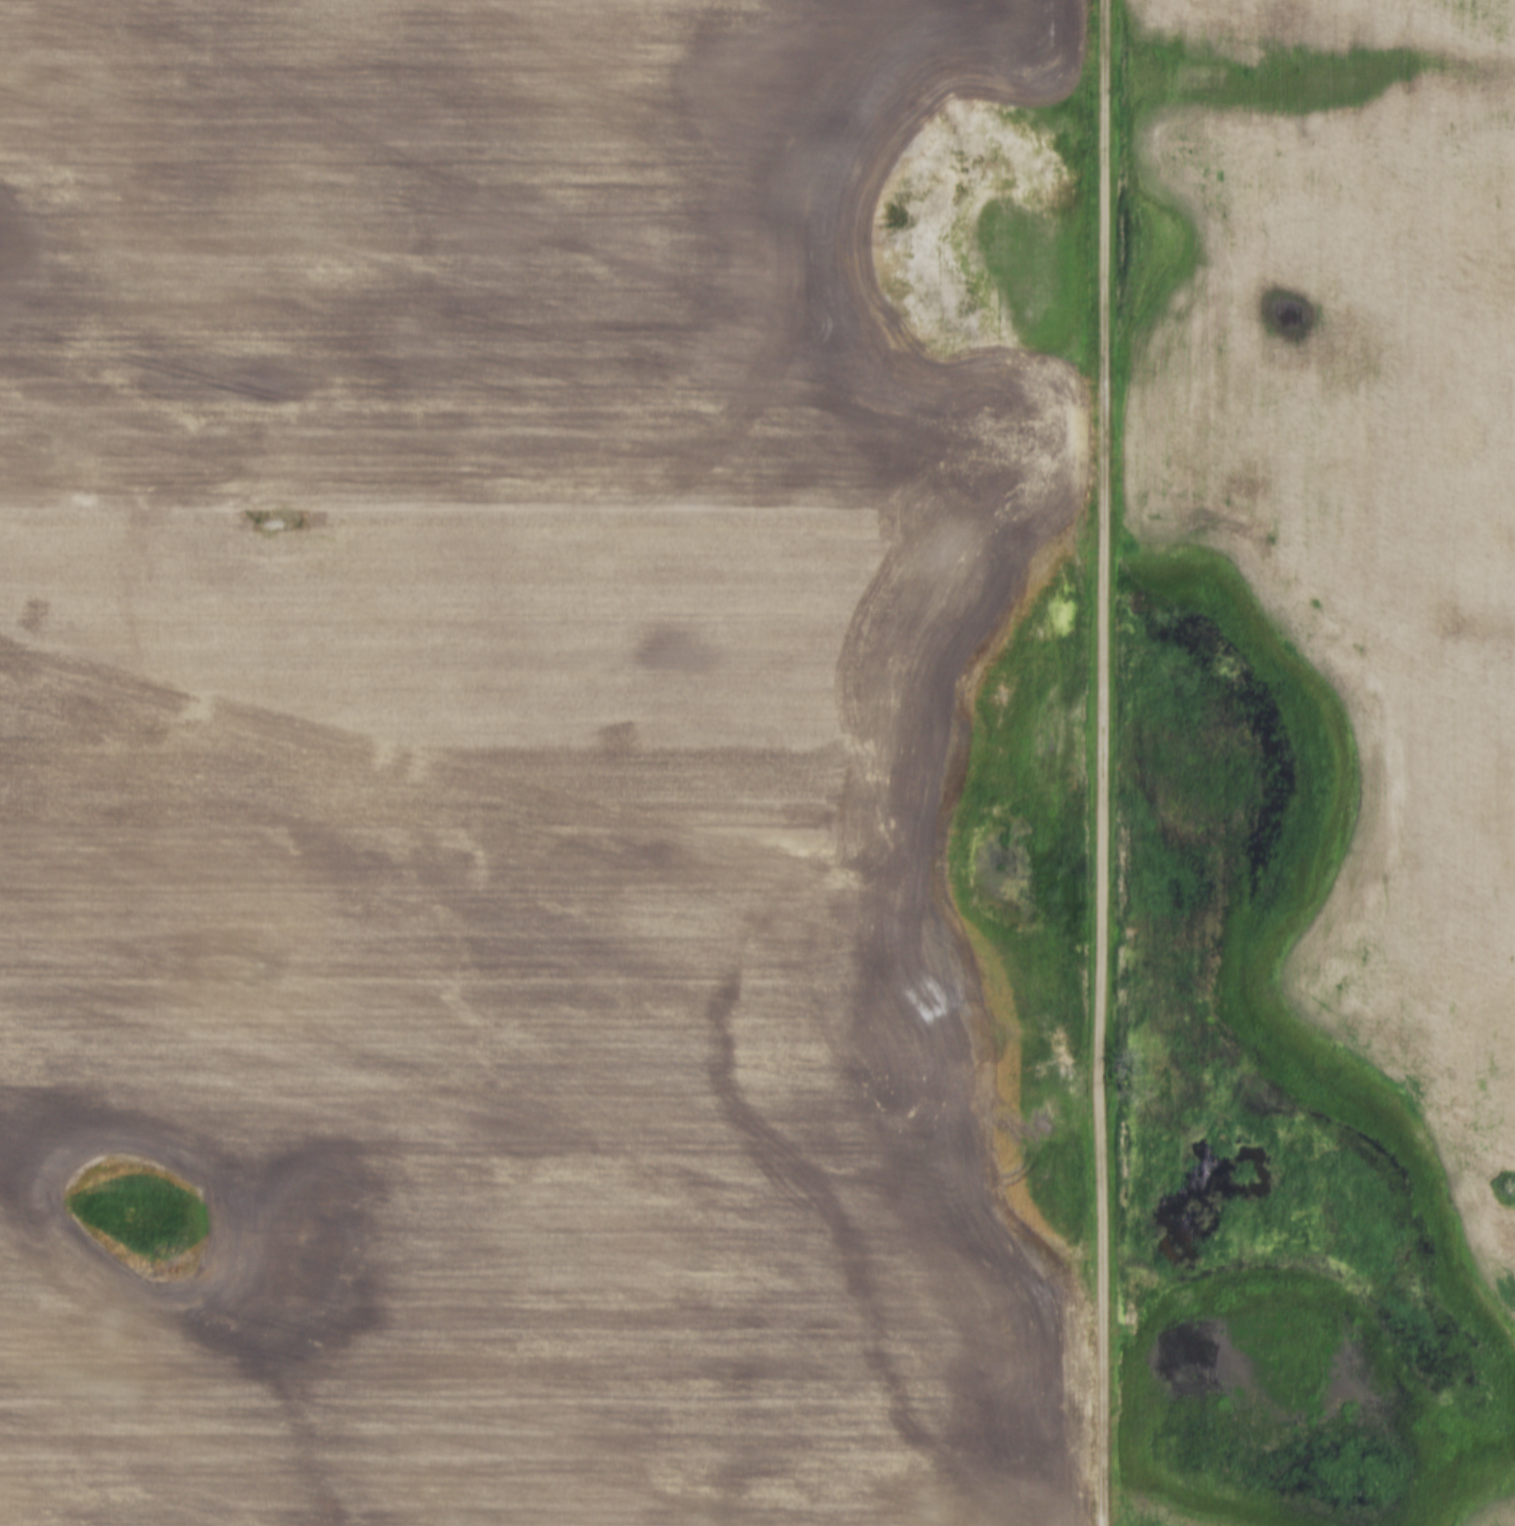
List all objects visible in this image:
road: (1104, 763)

